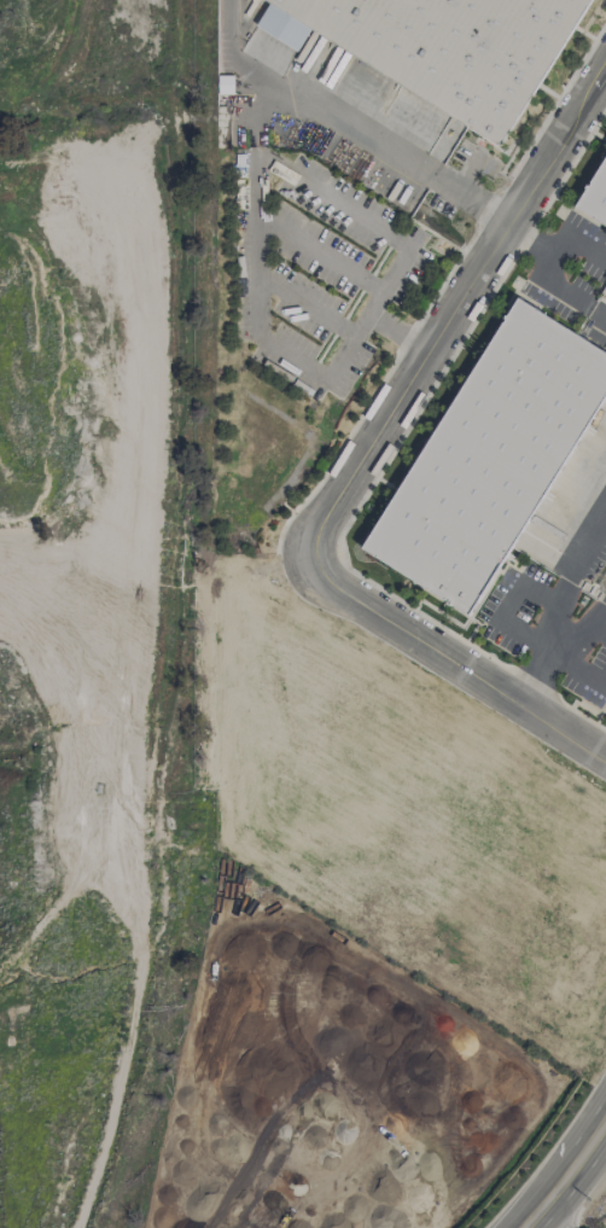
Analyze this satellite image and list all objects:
building: (441, 47)
building: (225, 85)
road: (322, 110)
road: (256, 174)
road: (461, 197)
building: (595, 198)
road: (554, 244)
road: (320, 251)
road: (563, 290)
road: (305, 308)
building: (491, 456)
road: (354, 462)
road: (559, 596)
quarry: (43, 880)
road: (588, 1145)
road: (546, 1199)
road: (546, 1221)

